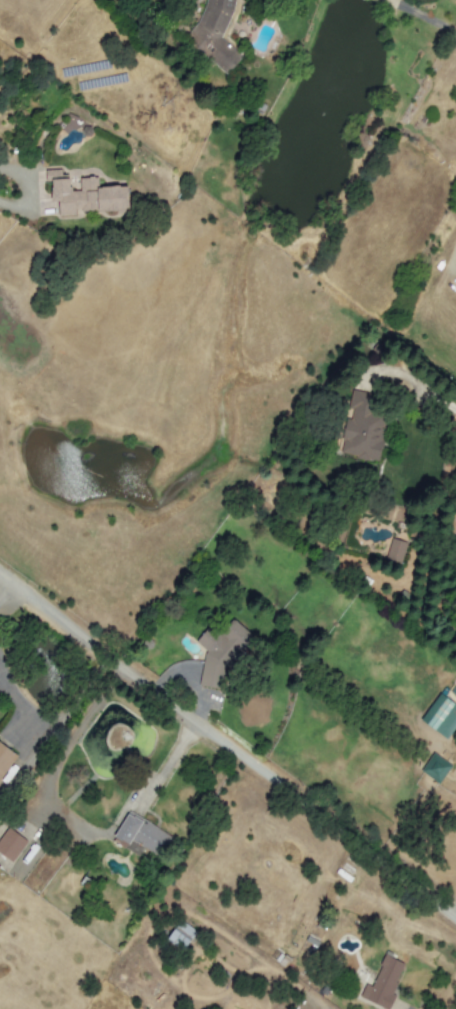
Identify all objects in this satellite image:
road: (423, 15)
building: (214, 35)
building: (84, 195)
road: (8, 207)
road: (455, 257)
road: (413, 380)
building: (363, 427)
building: (395, 551)
building: (221, 651)
building: (440, 716)
road: (227, 747)
building: (5, 759)
building: (435, 768)
road: (69, 820)
building: (142, 835)
building: (10, 844)
building: (180, 936)
building: (382, 983)

